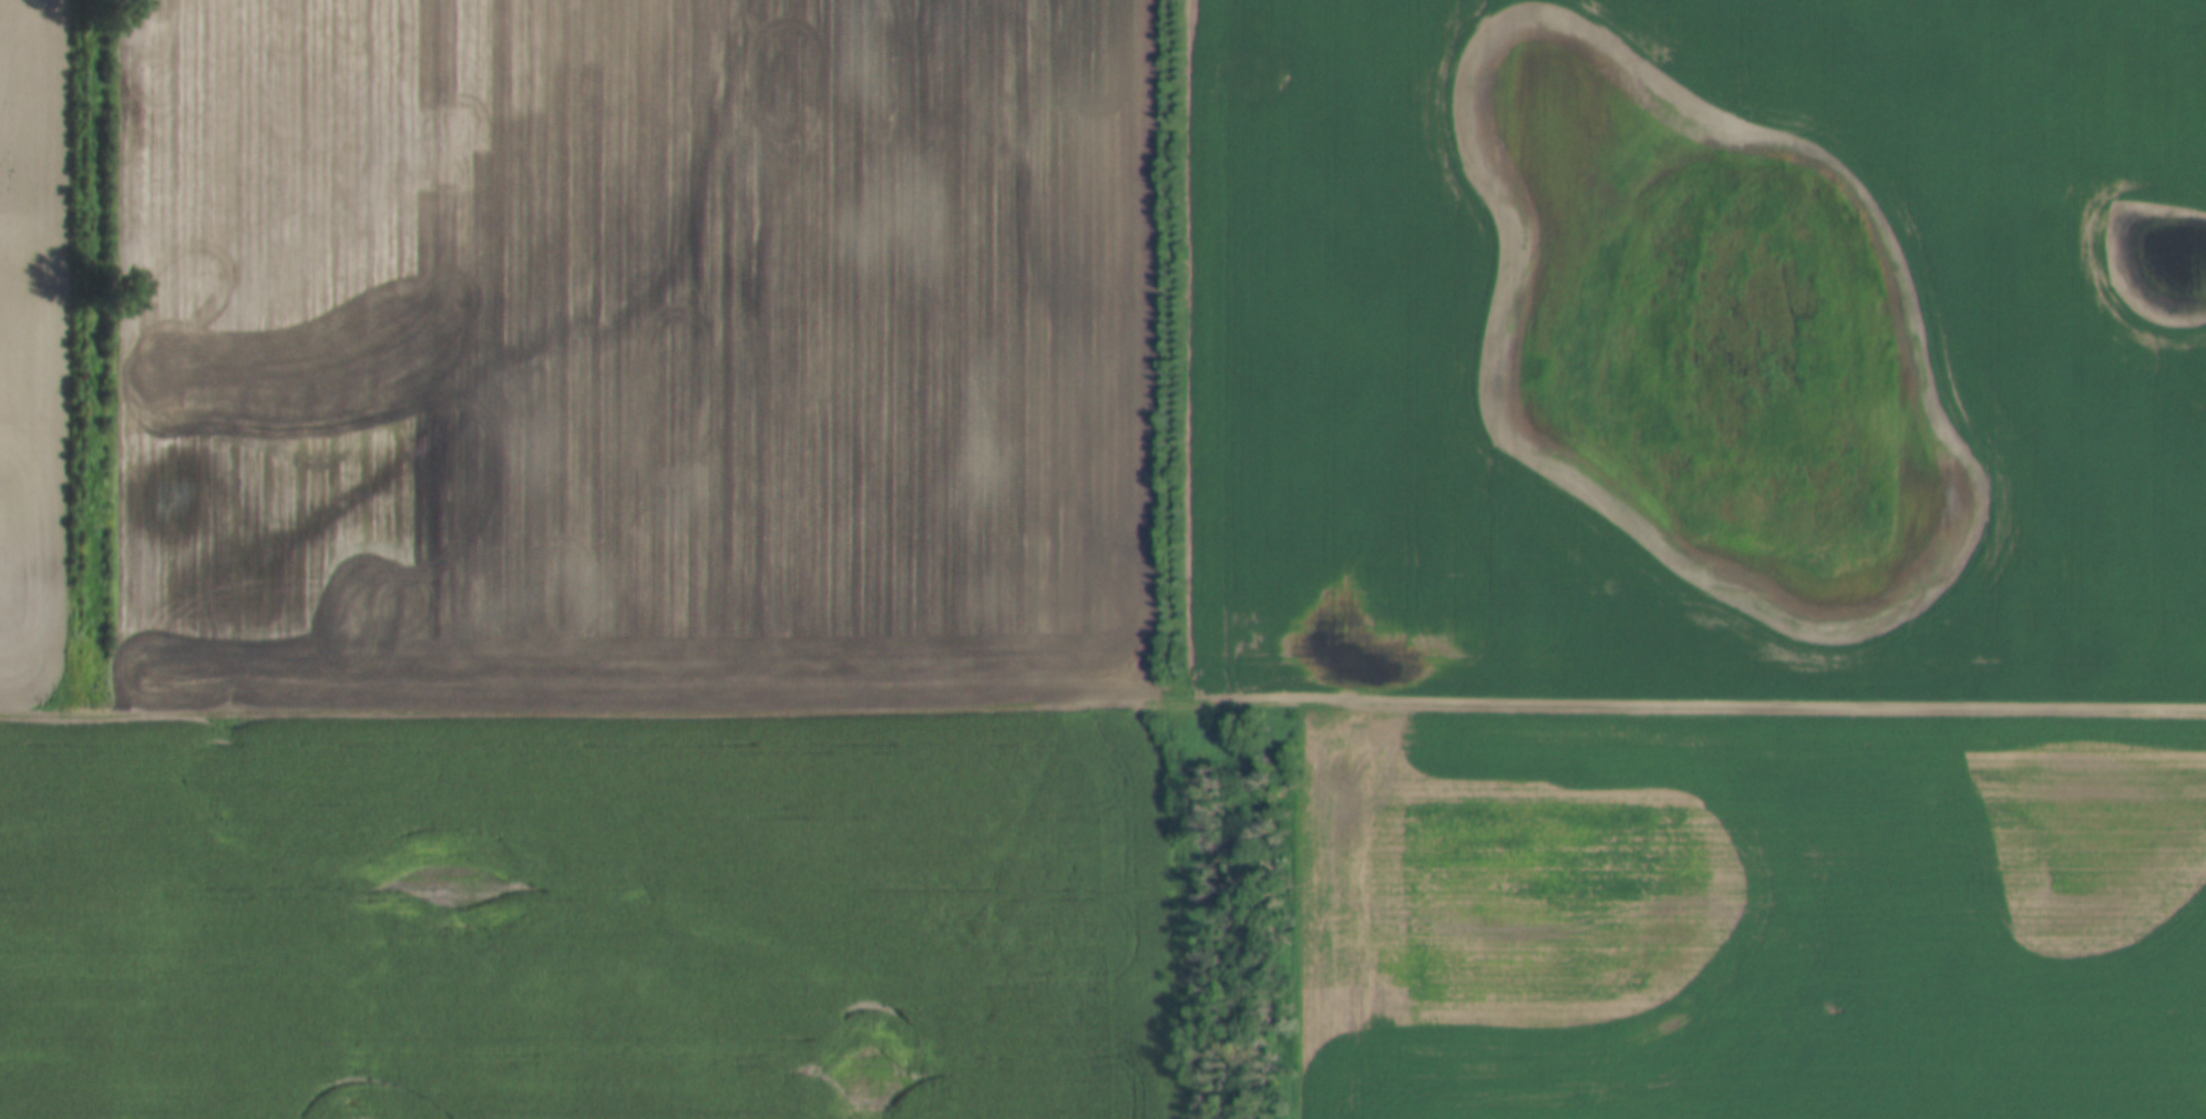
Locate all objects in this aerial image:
road: (98, 358)
road: (1102, 708)

